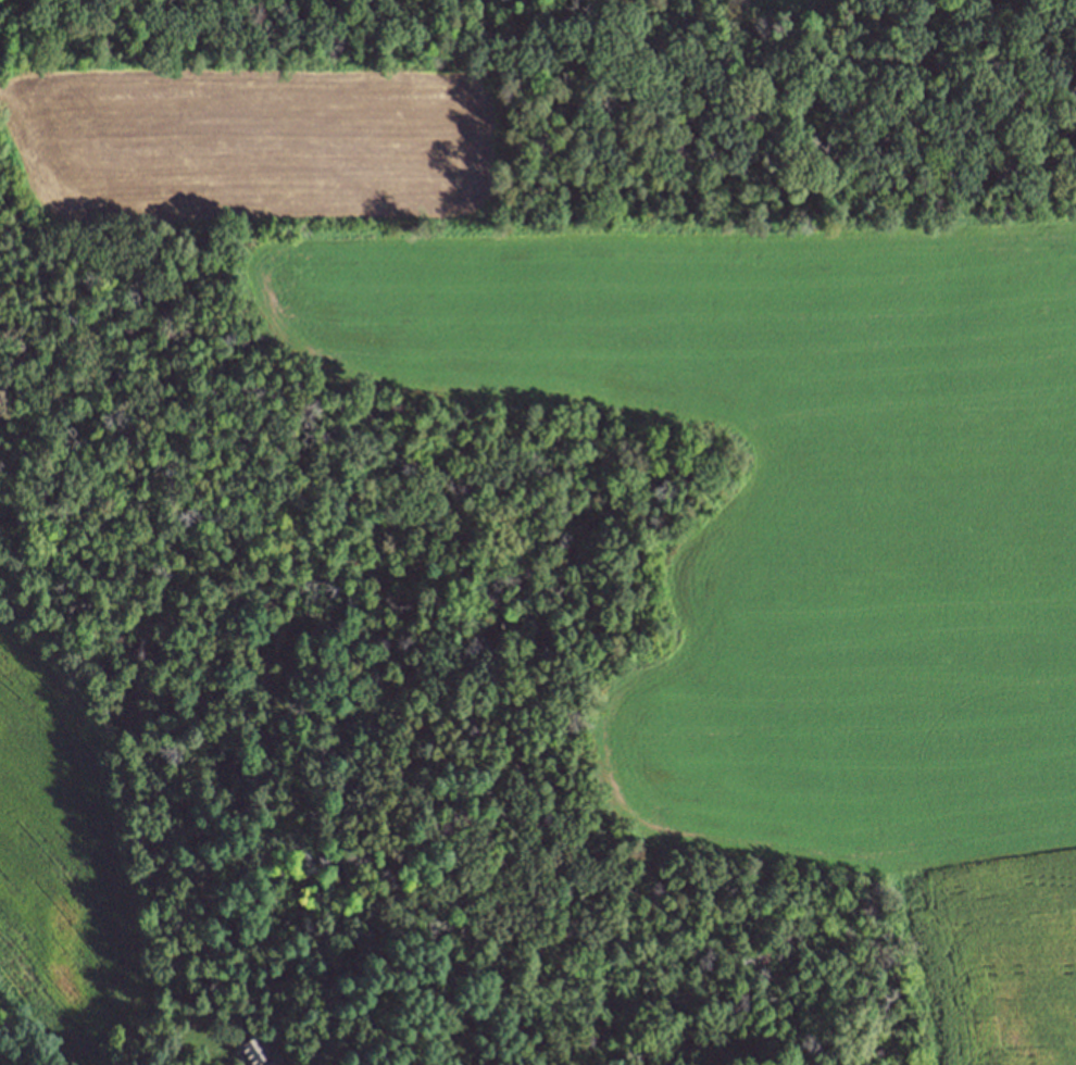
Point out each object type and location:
building: (257, 1048)

